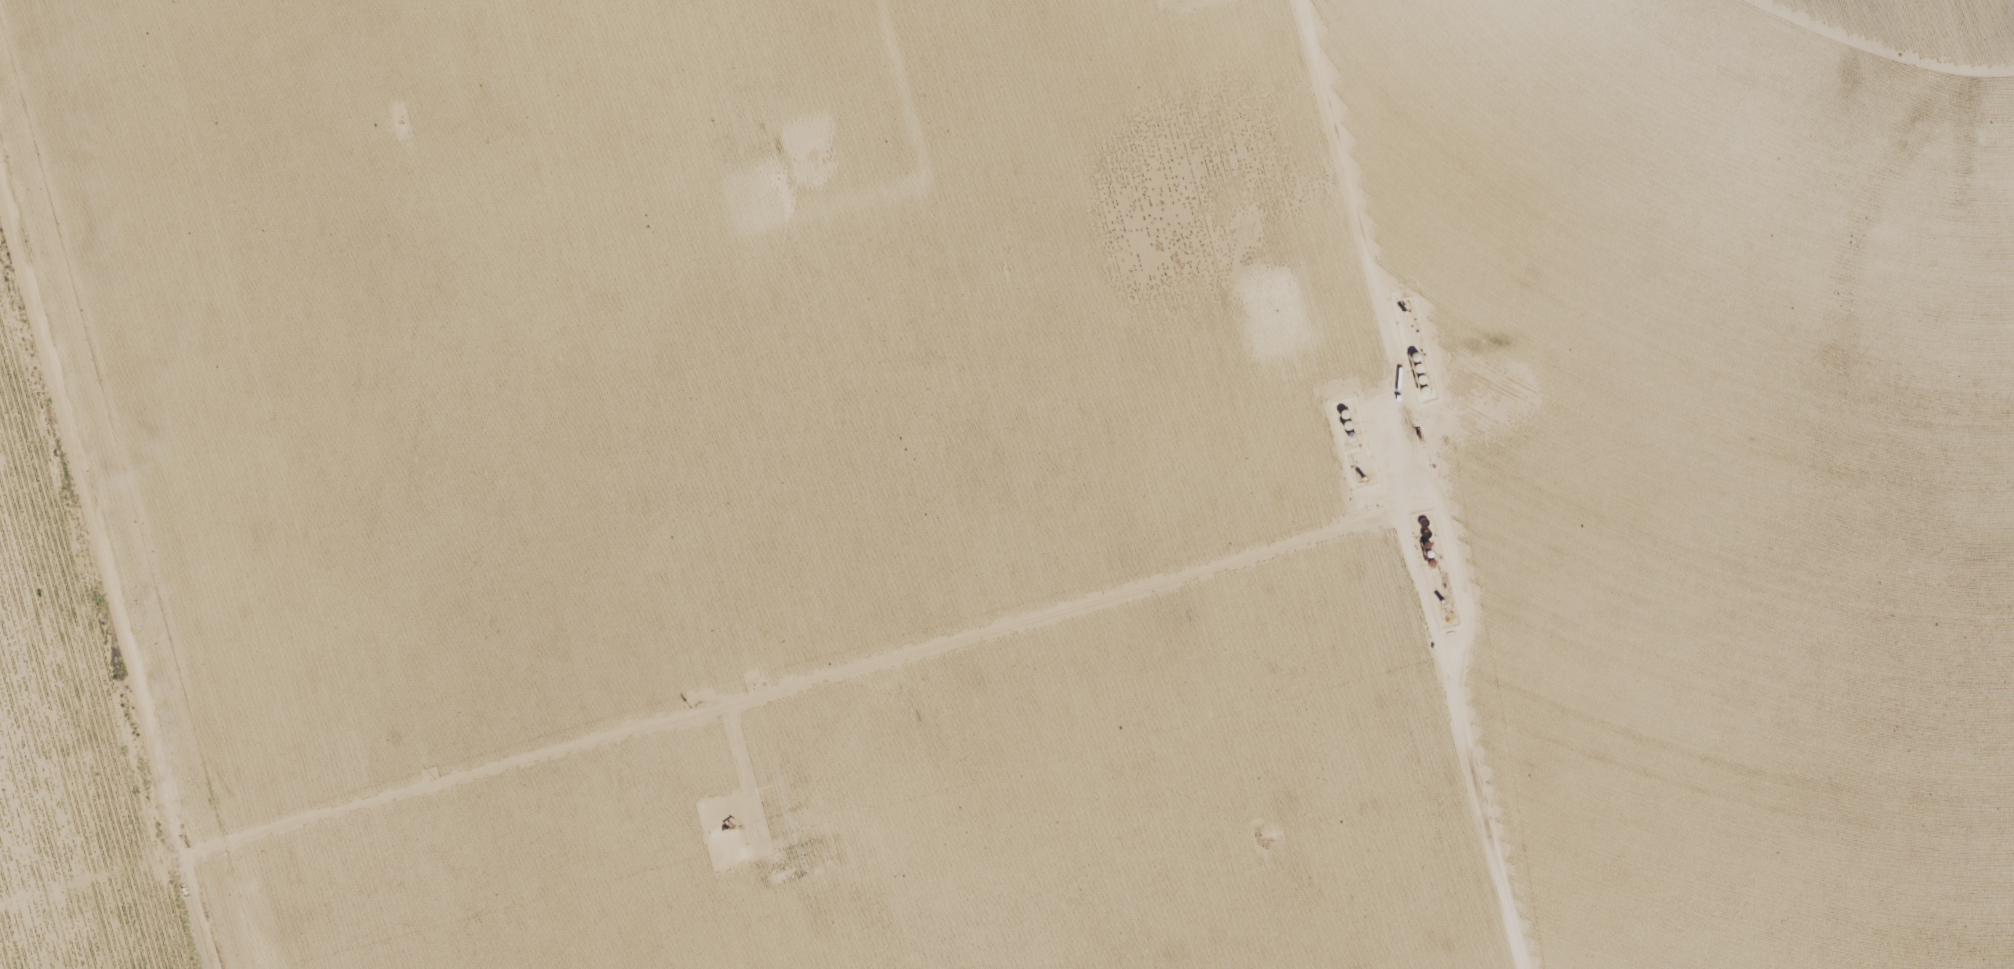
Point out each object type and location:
road: (1339, 199)
road: (193, 899)

